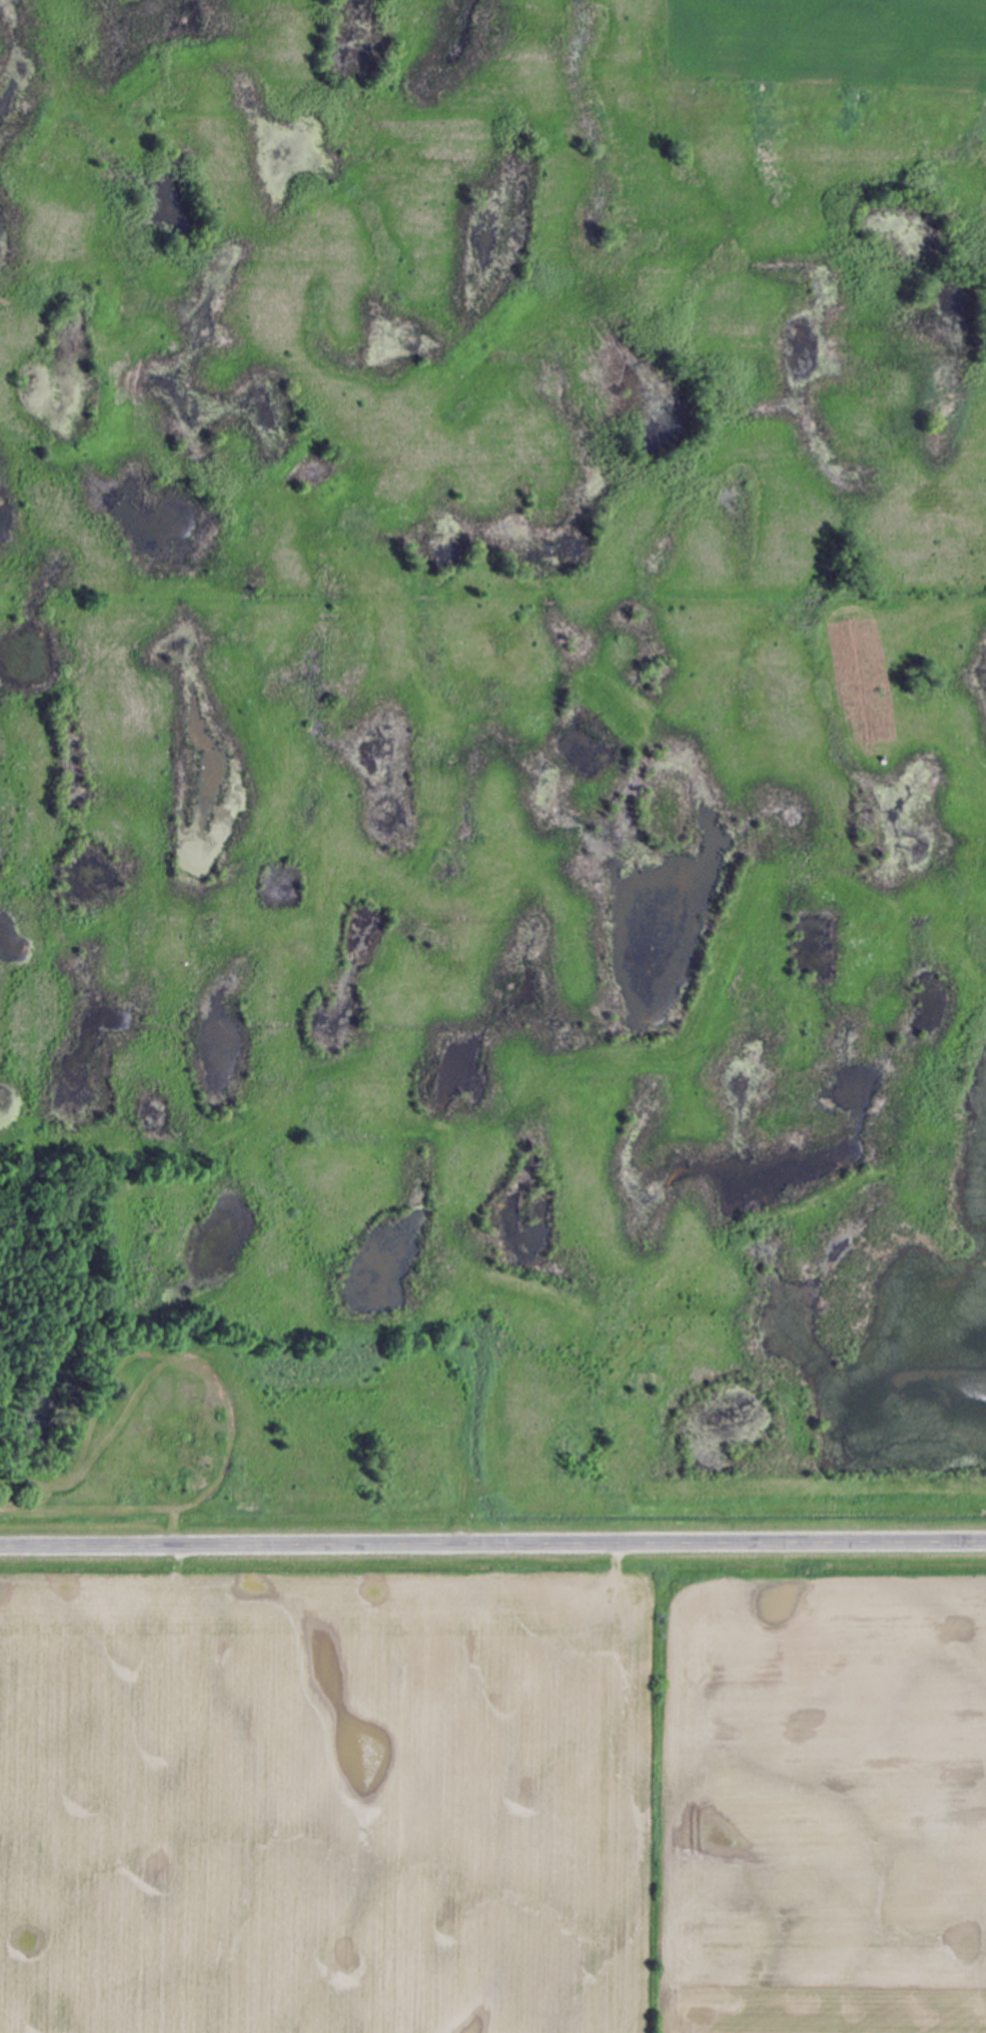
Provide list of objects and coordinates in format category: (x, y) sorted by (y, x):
road: (493, 1541)

